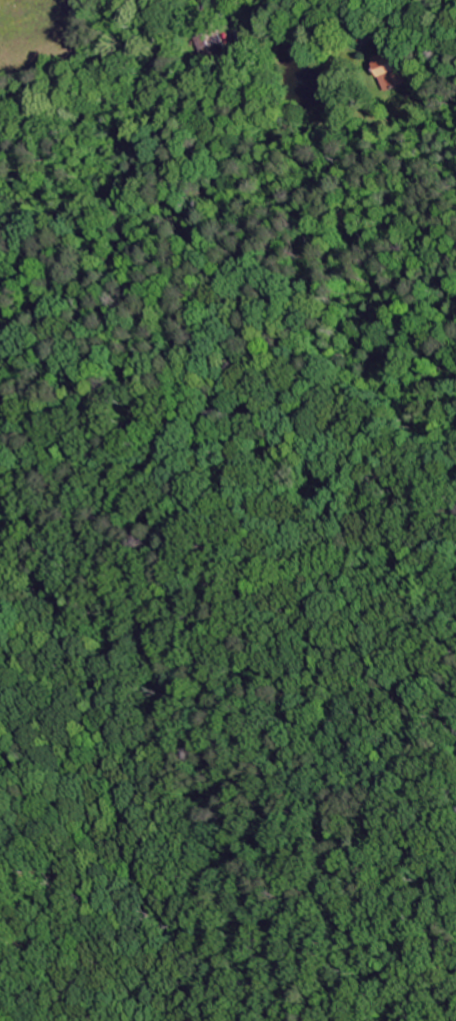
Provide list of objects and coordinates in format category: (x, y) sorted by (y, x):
road: (155, 17)
building: (212, 44)
building: (391, 70)

